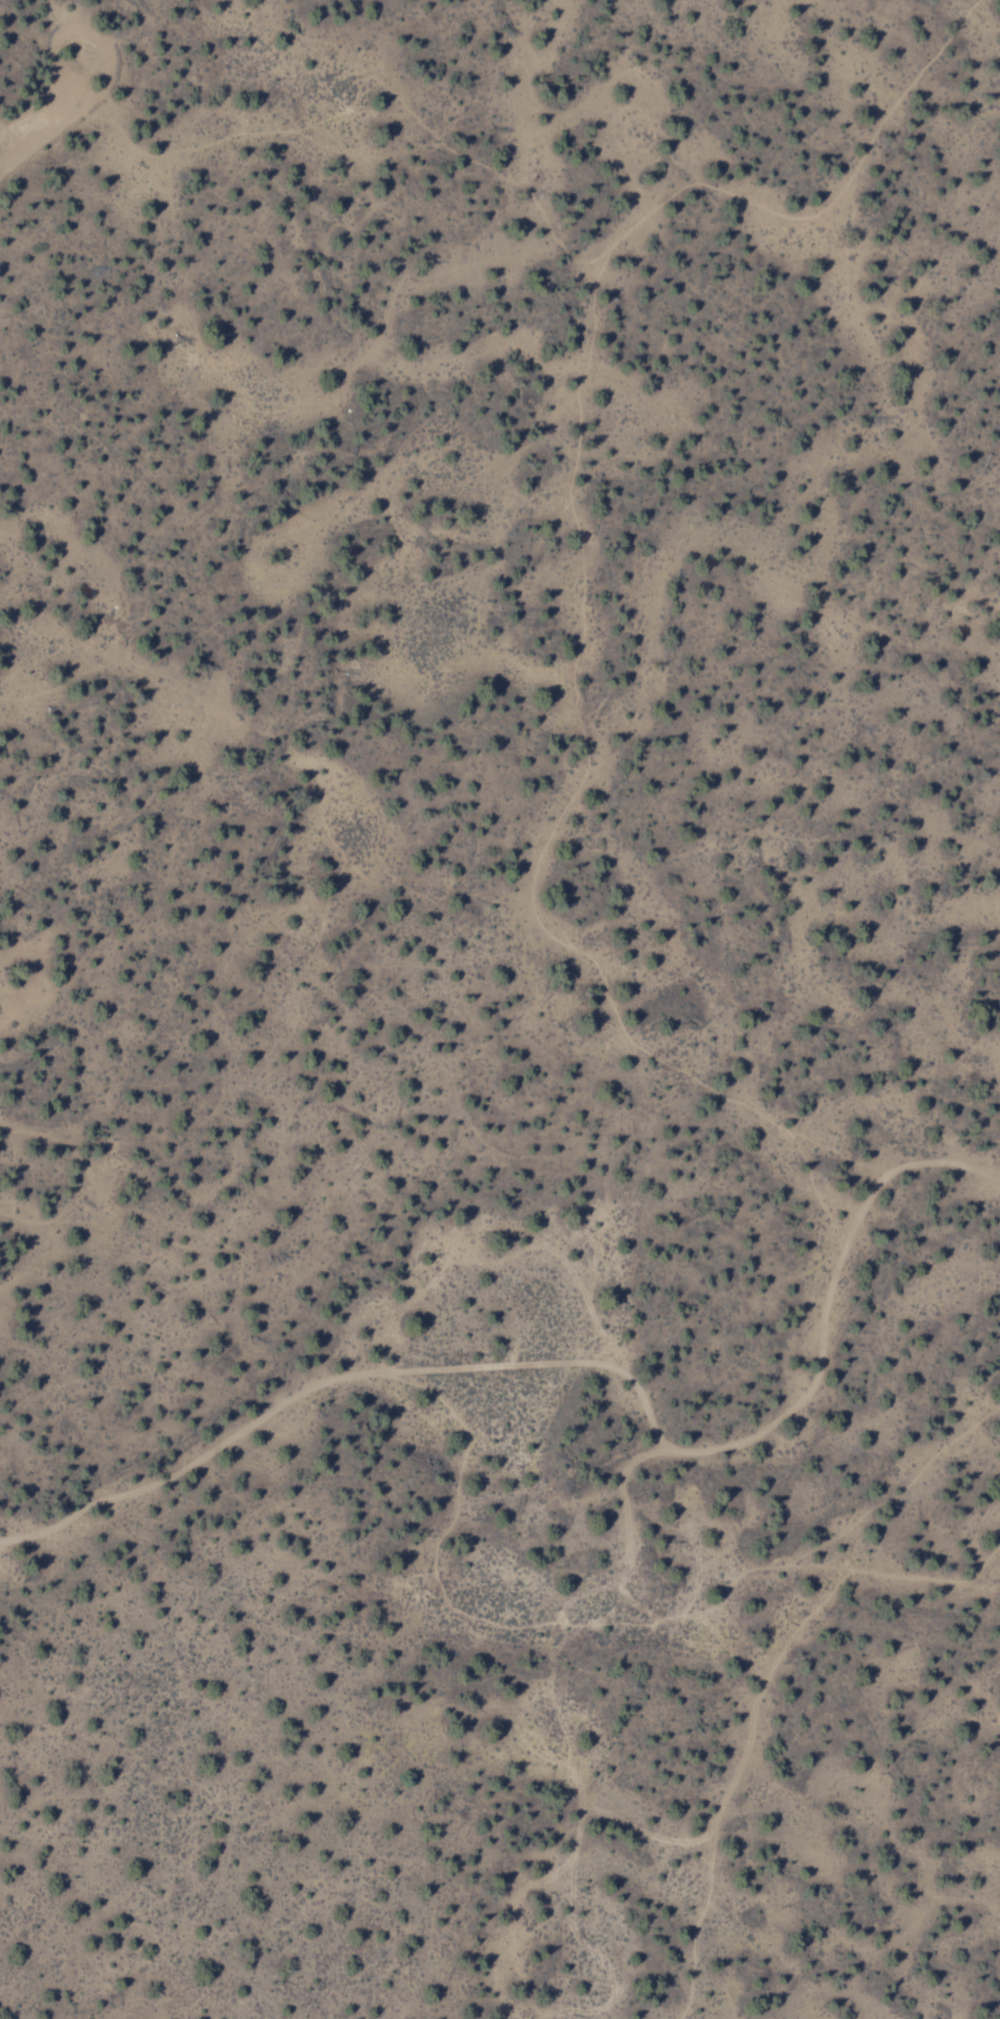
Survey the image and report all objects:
road: (593, 1362)

